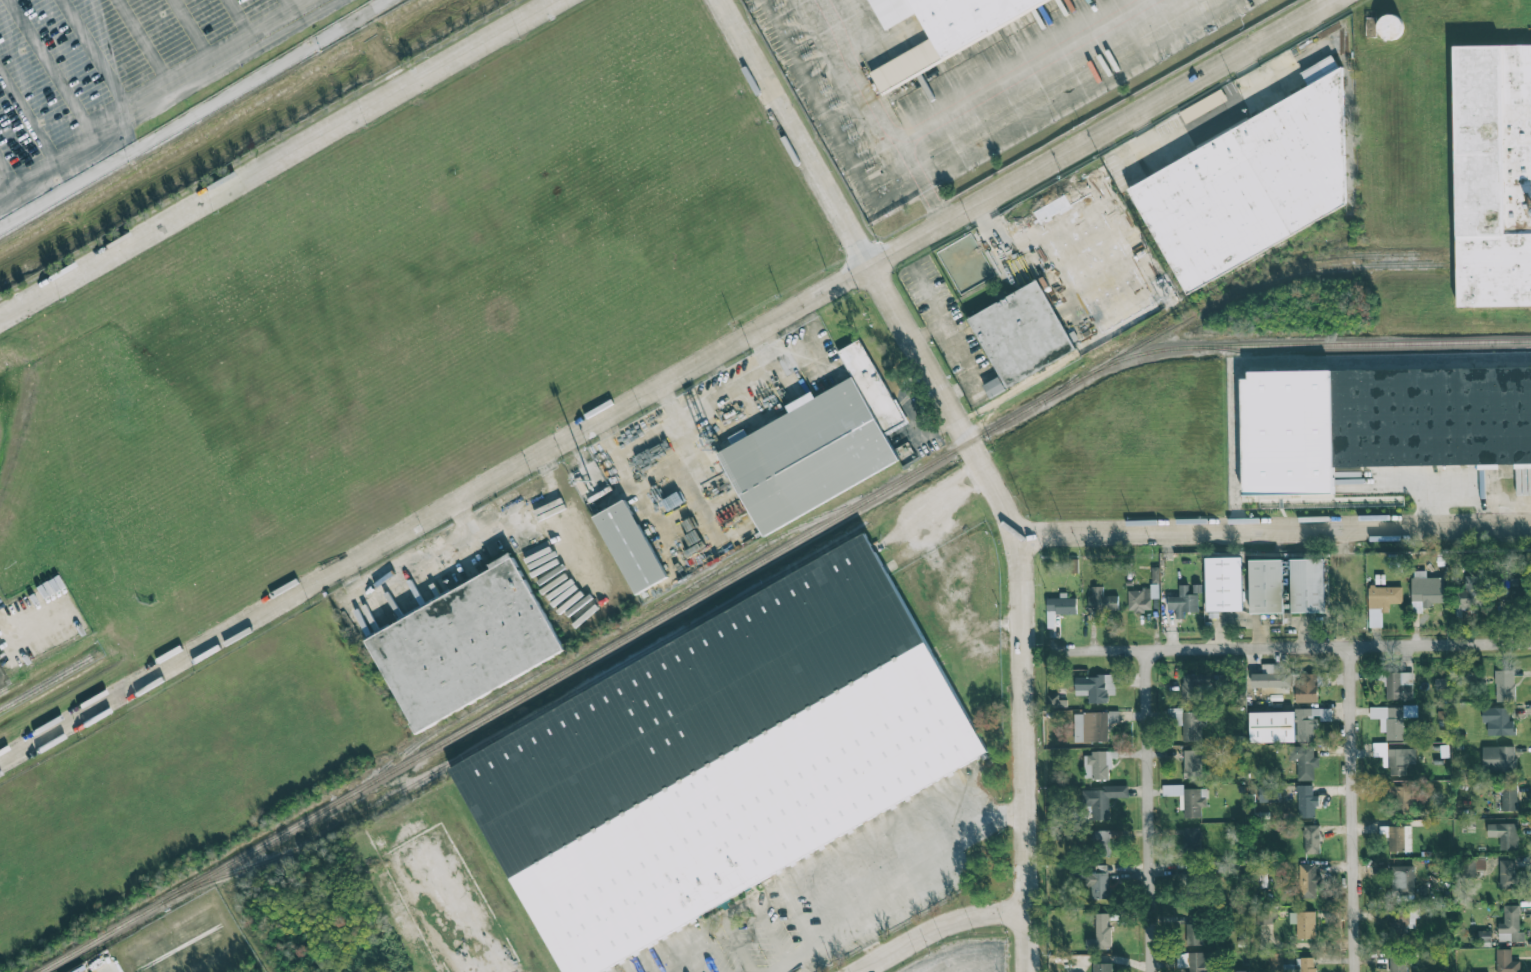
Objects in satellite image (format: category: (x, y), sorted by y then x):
road: (1335, 1)
building: (1390, 26)
building: (947, 30)
road: (1014, 66)
road: (846, 72)
road: (1080, 90)
road: (194, 113)
road: (280, 158)
building: (1494, 175)
road: (919, 178)
building: (1253, 182)
railway: (1333, 256)
railway: (1268, 279)
railway: (1169, 312)
building: (1026, 334)
road: (958, 350)
road: (773, 357)
railway: (1369, 363)
road: (670, 382)
building: (994, 387)
building: (1407, 411)
building: (1287, 432)
building: (737, 436)
building: (819, 448)
road: (979, 456)
road: (1305, 465)
road: (556, 467)
road: (1468, 477)
road: (469, 517)
road: (1275, 528)
railway: (762, 544)
building: (633, 548)
road: (447, 552)
railway: (757, 562)
building: (1072, 565)
building: (1224, 584)
building: (1266, 586)
building: (1307, 586)
building: (1508, 586)
building: (1427, 588)
building: (1473, 592)
building: (1142, 598)
building: (1102, 600)
building: (1183, 602)
building: (1382, 602)
building: (1061, 606)
road: (32, 622)
building: (468, 647)
road: (1299, 648)
building: (1272, 676)
railway: (46, 681)
building: (1, 682)
building: (1203, 685)
railway: (7, 686)
building: (1309, 686)
building: (1399, 686)
building: (1505, 686)
building: (1, 687)
building: (1095, 687)
building: (1055, 701)
building: (1392, 719)
building: (1499, 720)
building: (1310, 722)
building: (1093, 726)
building: (1192, 726)
building: (1272, 726)
railway: (500, 732)
building: (726, 756)
building: (1498, 758)
building: (1304, 761)
building: (1193, 763)
building: (1098, 764)
building: (1269, 794)
building: (1509, 798)
building: (1188, 799)
building: (1402, 800)
building: (1102, 801)
building: (1306, 801)
road: (1147, 810)
road: (1353, 810)
building: (1505, 835)
building: (1399, 838)
building: (1311, 839)
building: (1192, 840)
building: (1101, 843)
building: (1508, 879)
building: (1402, 880)
building: (1307, 881)
building: (1098, 885)
road: (867, 888)
road: (448, 911)
building: (1264, 915)
building: (1403, 920)
building: (1304, 924)
building: (1510, 925)
road: (939, 927)
building: (1193, 929)
building: (1100, 933)
building: (1485, 936)
road: (765, 960)
building: (1195, 961)
building: (1506, 961)
building: (1275, 962)
building: (1399, 963)
building: (1305, 964)
building: (1102, 967)
building: (1238, 971)

